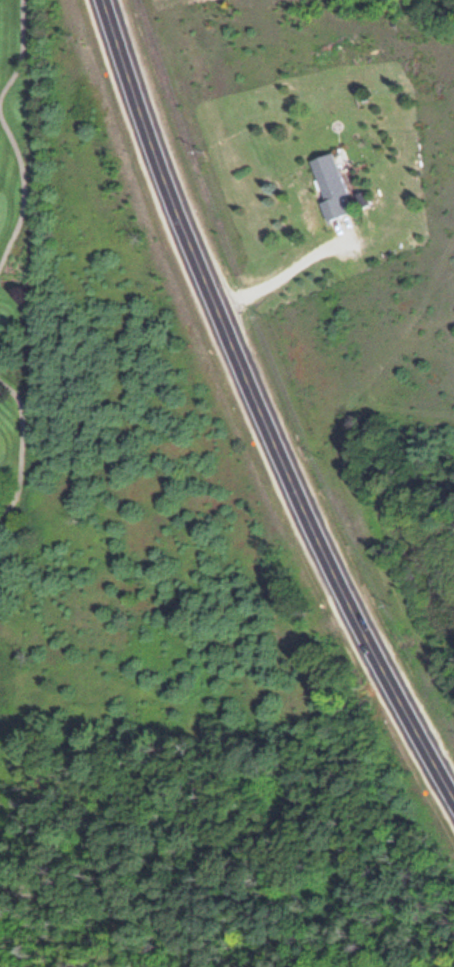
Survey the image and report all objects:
building: (306, 200)
park: (23, 297)
road: (258, 404)

